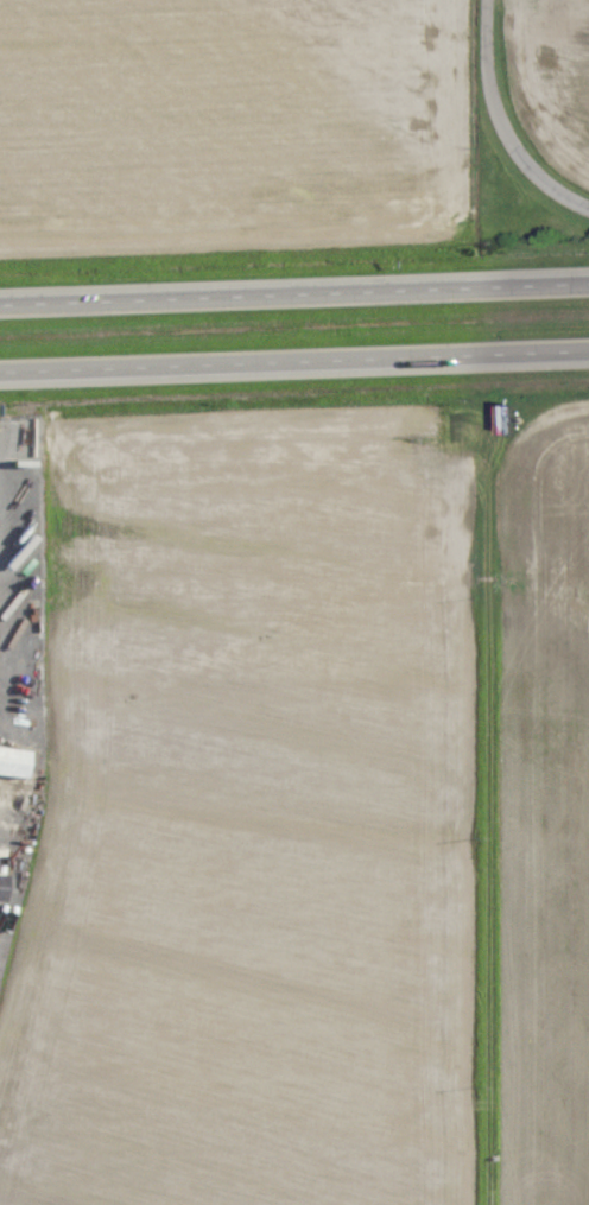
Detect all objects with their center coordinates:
road: (482, 18)
road: (508, 137)
road: (294, 293)
road: (294, 370)
building: (8, 760)

